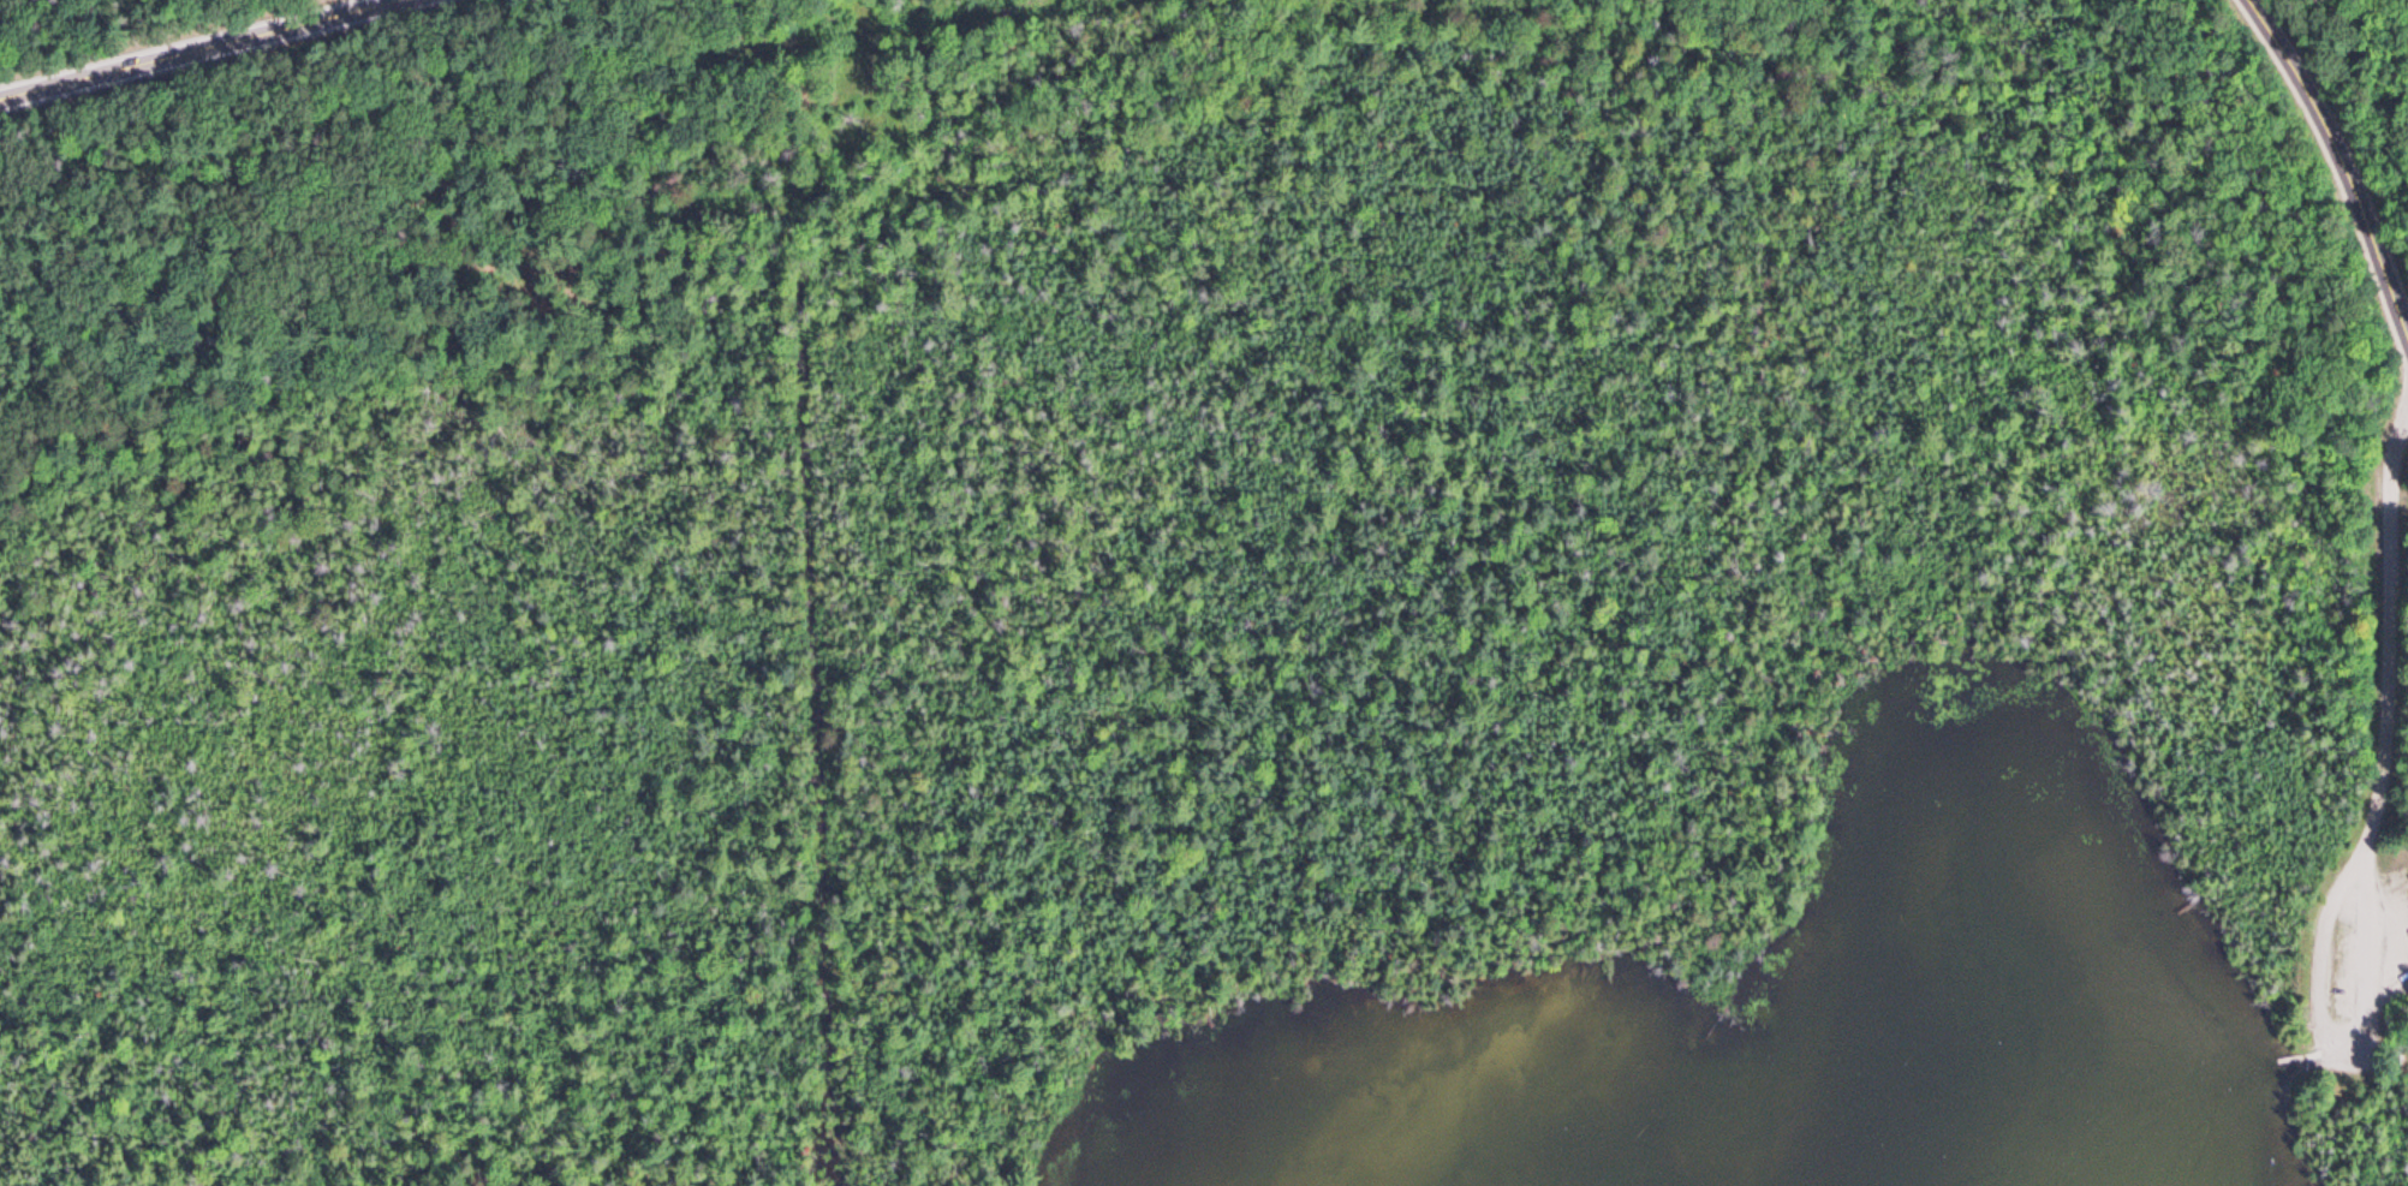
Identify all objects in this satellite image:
road: (201, 49)
road: (2338, 167)
road: (2379, 757)
parking lot: (2359, 952)
building: (2402, 1054)

